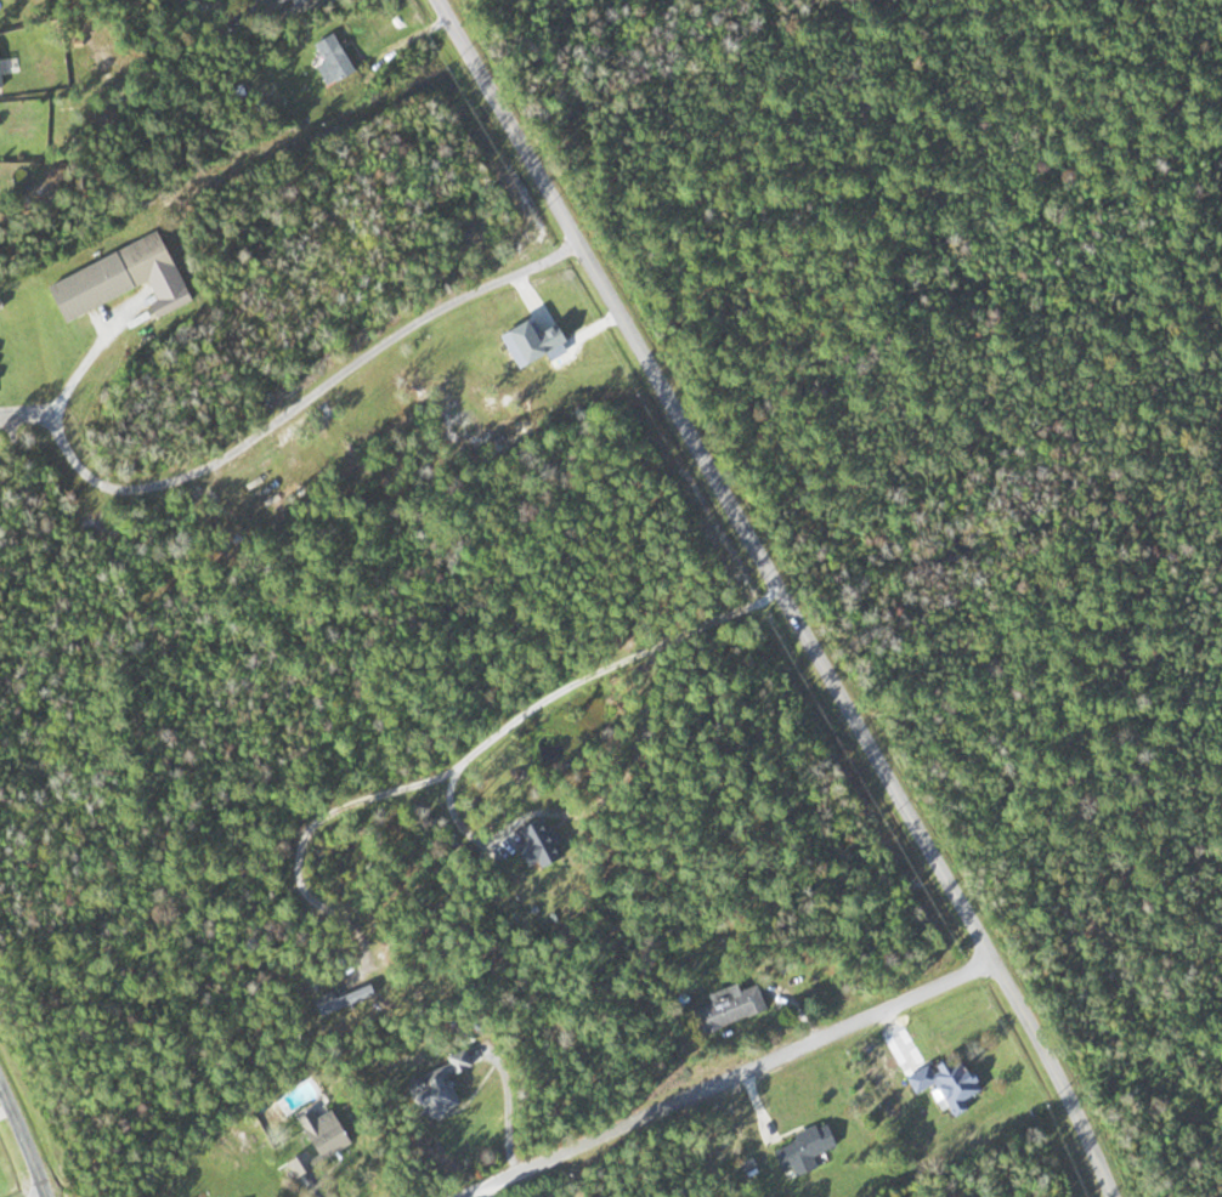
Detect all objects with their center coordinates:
building: (309, 2)
building: (341, 59)
building: (120, 277)
road: (775, 597)
building: (548, 845)
building: (352, 1002)
building: (737, 1008)
road: (722, 1078)
building: (947, 1082)
building: (445, 1088)
building: (335, 1133)
road: (21, 1146)
building: (813, 1150)
building: (307, 1165)

